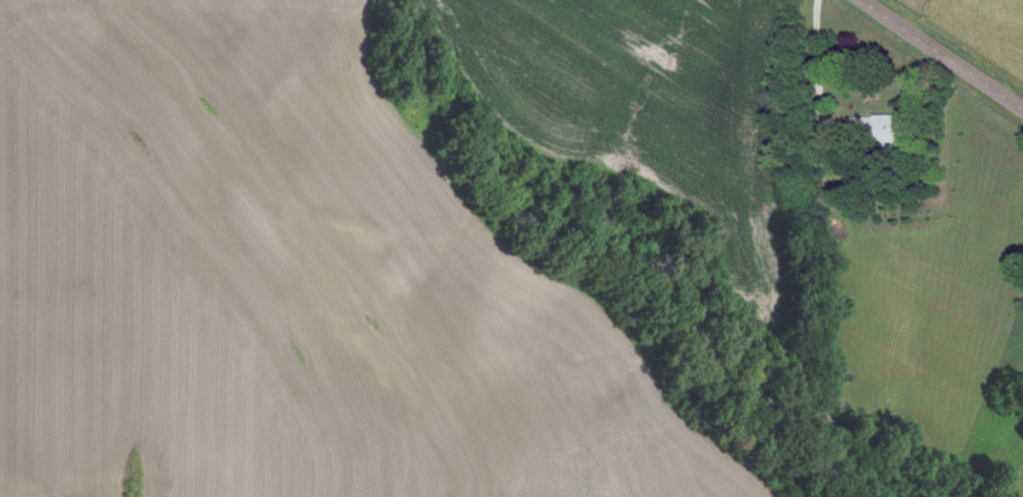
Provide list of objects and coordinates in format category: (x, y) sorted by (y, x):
road: (942, 54)
building: (878, 130)

